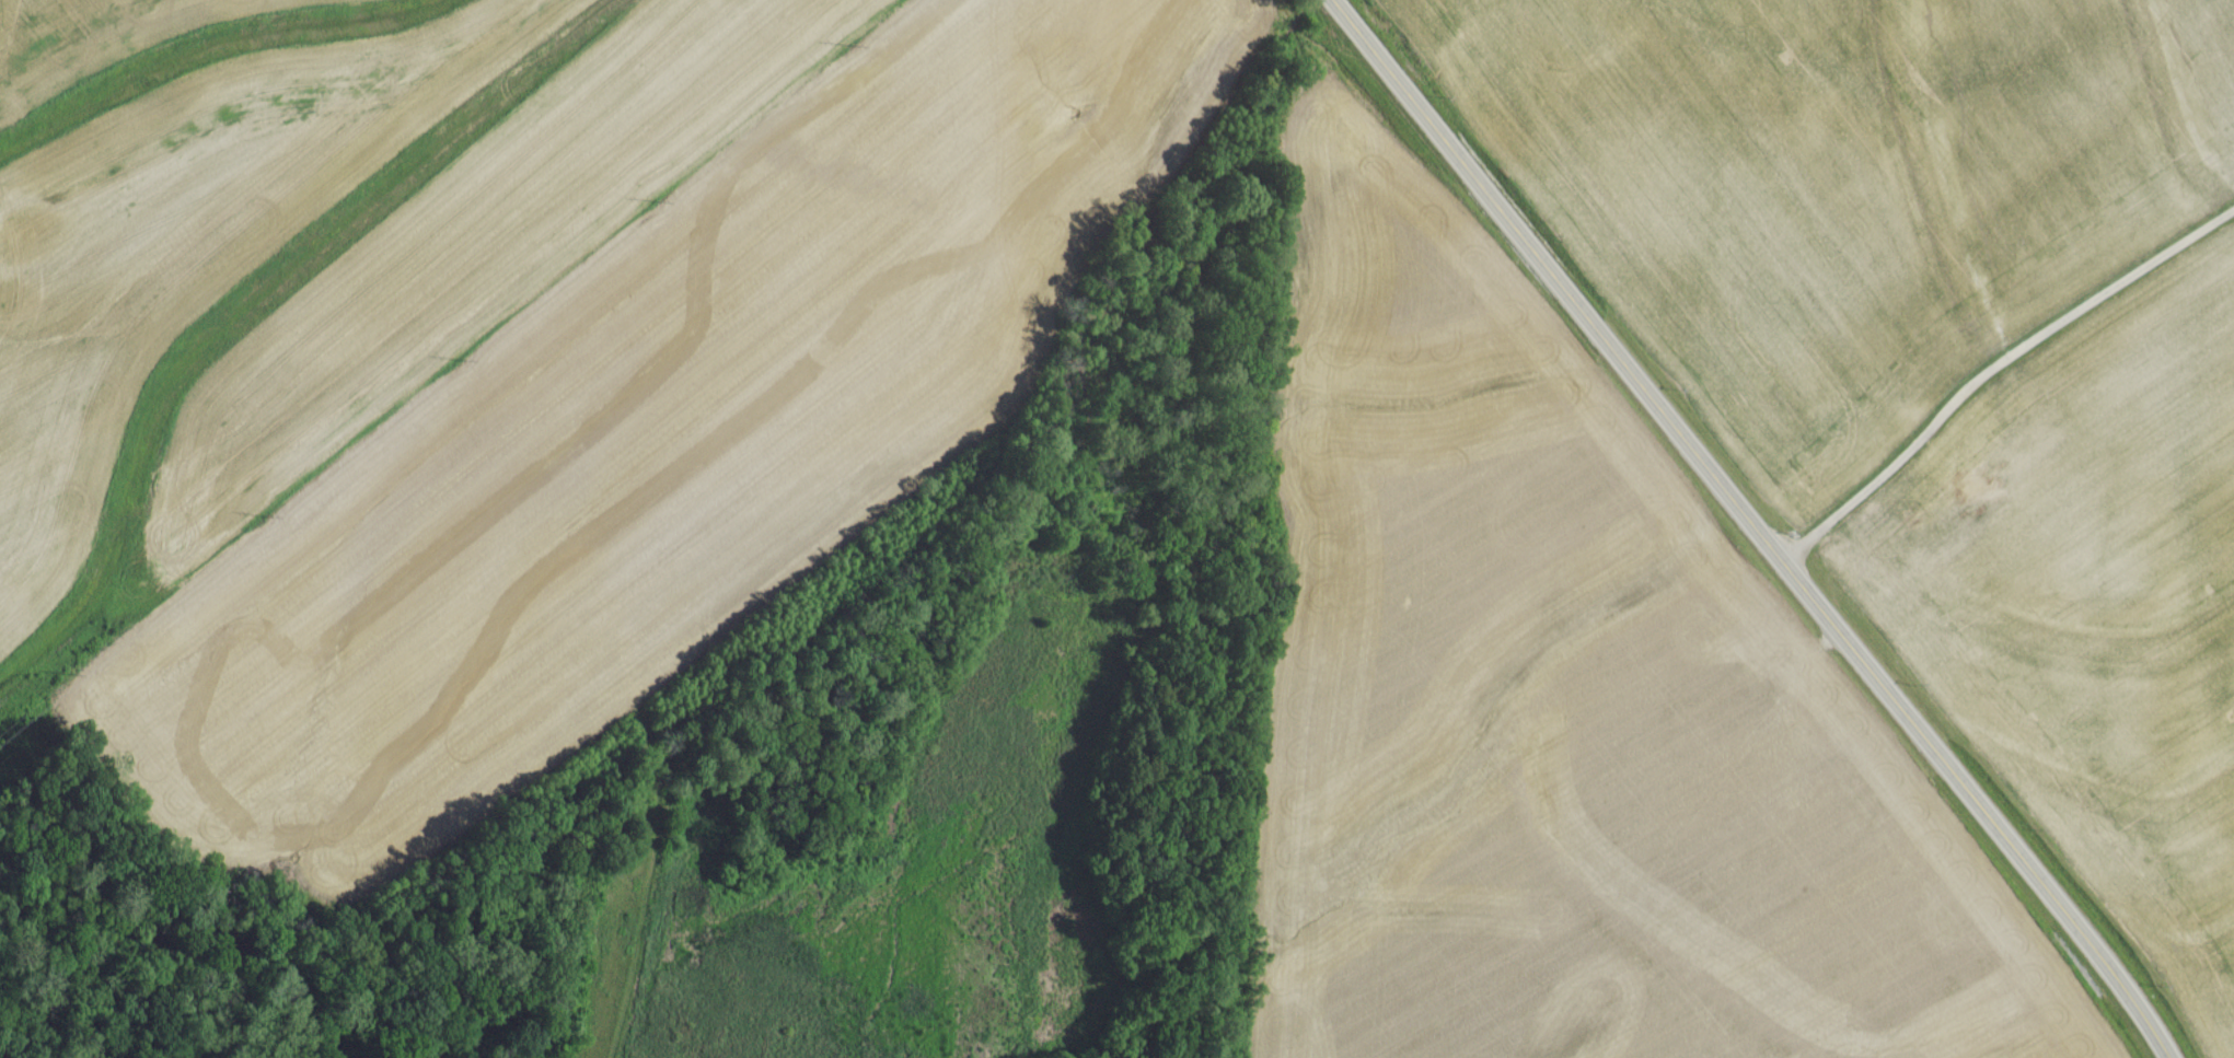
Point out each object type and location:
road: (1750, 526)

